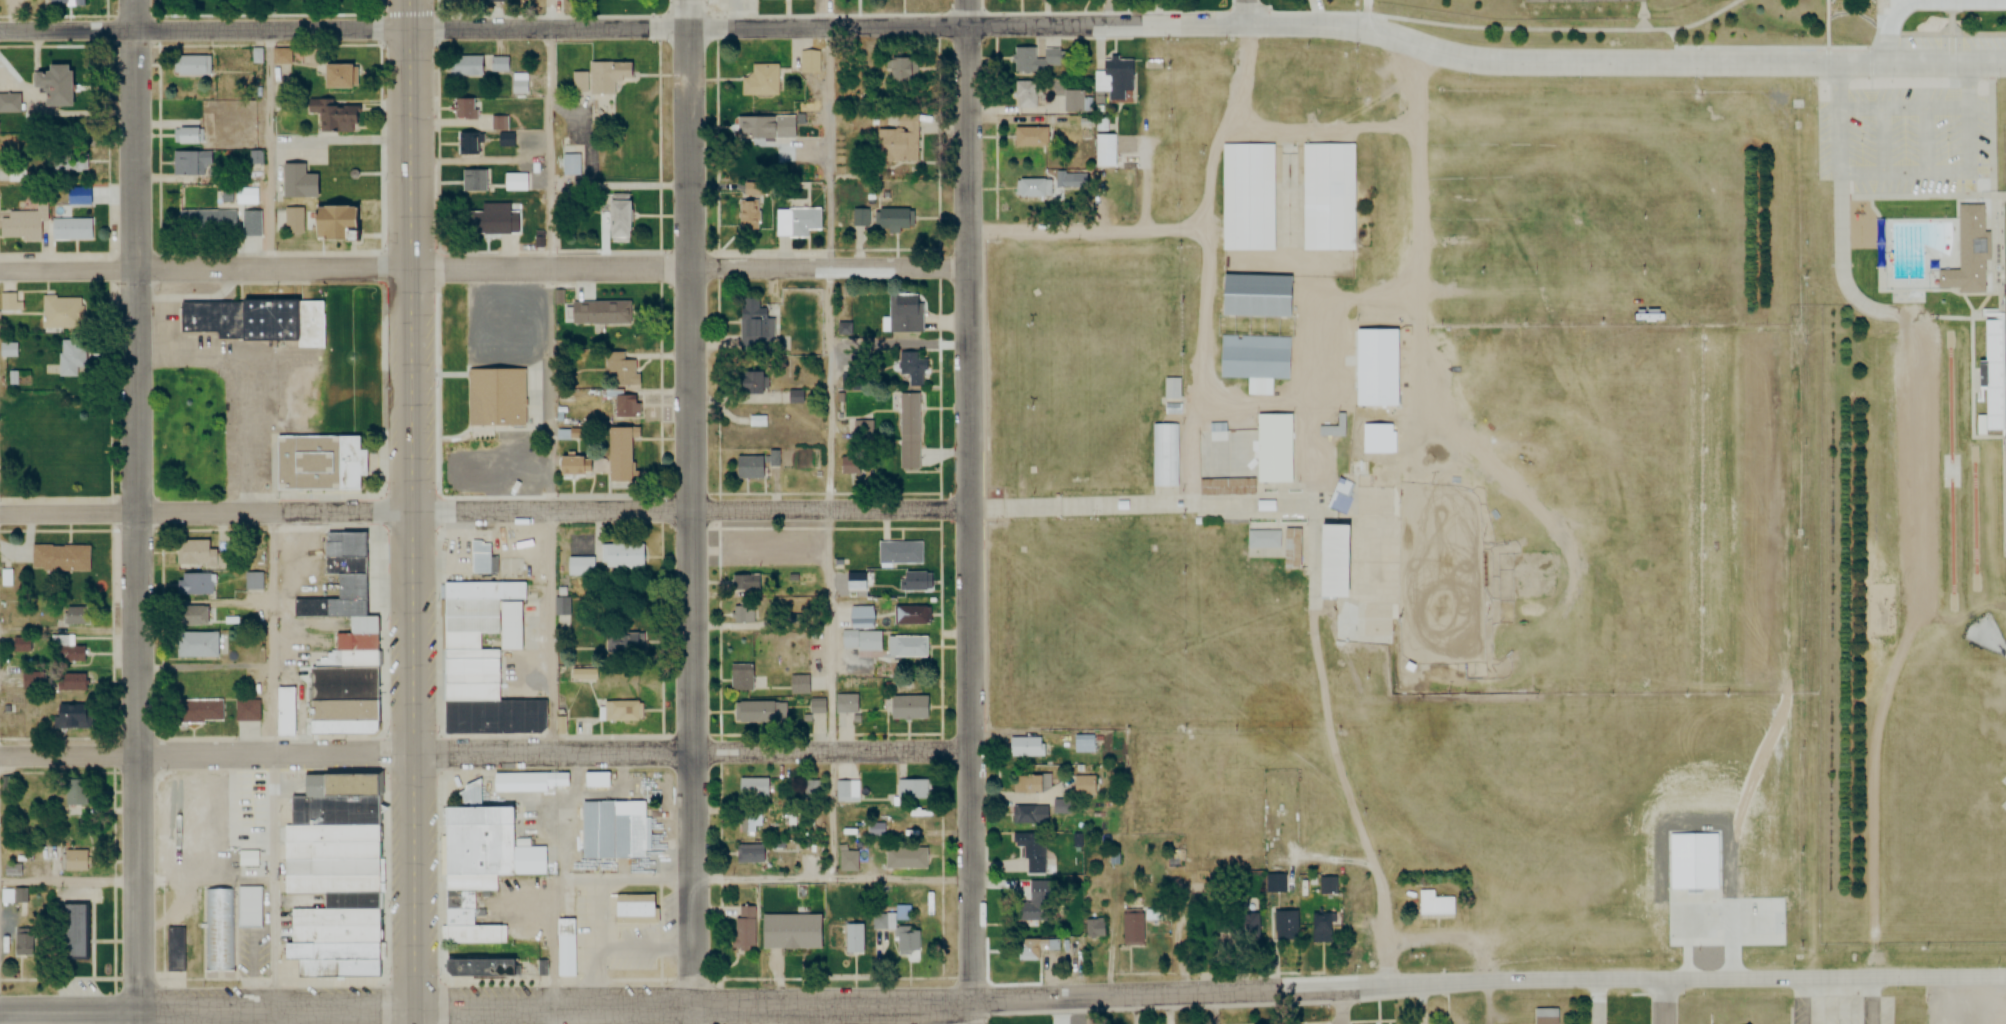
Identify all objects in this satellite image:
building: (66, 2)
road: (1894, 5)
road: (1245, 12)
road: (1367, 14)
road: (1210, 24)
road: (205, 30)
building: (281, 56)
building: (1033, 60)
building: (808, 61)
building: (498, 65)
building: (192, 66)
building: (466, 66)
building: (901, 70)
building: (334, 74)
building: (601, 77)
building: (1113, 77)
building: (760, 81)
building: (52, 86)
building: (1026, 93)
building: (1072, 100)
building: (9, 104)
building: (467, 109)
building: (334, 115)
building: (756, 128)
building: (188, 136)
building: (1030, 137)
parking lot: (1907, 138)
building: (506, 140)
building: (896, 142)
building: (472, 145)
building: (1105, 150)
building: (191, 163)
building: (70, 164)
building: (570, 165)
building: (473, 181)
building: (296, 182)
building: (516, 182)
building: (1033, 188)
building: (1246, 196)
building: (1327, 196)
building: (748, 208)
building: (616, 218)
building: (860, 218)
building: (893, 219)
building: (292, 220)
building: (206, 222)
building: (329, 223)
building: (492, 223)
building: (796, 223)
building: (23, 224)
building: (71, 228)
building: (1967, 252)
road: (692, 264)
road: (207, 269)
building: (1255, 294)
building: (10, 303)
building: (600, 312)
building: (61, 313)
building: (905, 313)
building: (256, 321)
building: (754, 326)
building: (485, 328)
building: (8, 350)
building: (70, 357)
building: (1254, 357)
building: (911, 368)
building: (620, 369)
road: (551, 375)
building: (1995, 377)
building: (751, 383)
building: (1172, 389)
building: (495, 396)
building: (626, 405)
building: (862, 430)
building: (908, 431)
building: (1331, 431)
building: (1357, 443)
building: (1272, 447)
road: (829, 452)
building: (619, 453)
building: (1166, 455)
building: (316, 457)
building: (1223, 462)
building: (573, 466)
building: (850, 466)
building: (748, 468)
building: (538, 471)
building: (461, 476)
building: (1339, 496)
road: (1919, 496)
road: (692, 508)
road: (692, 511)
road: (973, 511)
road: (135, 512)
road: (413, 512)
road: (206, 513)
building: (1262, 538)
building: (1291, 547)
building: (191, 553)
building: (900, 553)
building: (623, 555)
building: (58, 558)
building: (481, 558)
building: (1328, 560)
building: (580, 566)
building: (337, 569)
building: (252, 581)
building: (916, 582)
building: (745, 583)
building: (191, 584)
building: (856, 584)
building: (562, 613)
building: (76, 615)
building: (188, 615)
building: (910, 615)
building: (859, 617)
building: (741, 618)
building: (508, 624)
building: (629, 640)
building: (860, 641)
building: (20, 644)
building: (195, 644)
building: (905, 647)
building: (65, 649)
building: (583, 674)
building: (740, 677)
building: (28, 680)
building: (62, 681)
building: (340, 683)
building: (798, 684)
building: (846, 702)
building: (817, 705)
building: (907, 707)
building: (196, 709)
building: (245, 710)
building: (339, 710)
building: (284, 711)
building: (621, 711)
building: (761, 712)
building: (67, 716)
building: (1083, 744)
building: (1025, 747)
road: (693, 750)
road: (206, 753)
building: (597, 779)
building: (526, 781)
building: (1033, 783)
building: (1083, 785)
building: (810, 786)
building: (756, 787)
building: (913, 789)
building: (846, 791)
building: (73, 798)
building: (1028, 815)
building: (749, 821)
building: (900, 821)
building: (612, 828)
building: (1032, 852)
building: (748, 853)
building: (248, 858)
building: (905, 858)
building: (74, 861)
building: (848, 861)
building: (478, 868)
road: (69, 875)
building: (332, 876)
road: (834, 879)
building: (1274, 884)
building: (13, 897)
building: (1434, 905)
building: (247, 906)
building: (633, 909)
building: (1027, 912)
building: (1153, 916)
building: (1131, 926)
building: (1247, 926)
building: (1285, 926)
building: (744, 928)
building: (1321, 928)
building: (75, 929)
building: (219, 929)
building: (1095, 929)
building: (790, 930)
building: (853, 939)
building: (907, 941)
building: (566, 948)
building: (172, 949)
building: (1035, 949)
building: (474, 969)
road: (1211, 994)
road: (1666, 1001)
road: (1343, 1006)
road: (208, 1011)
building: (1545, 1016)
road: (0, 1018)

